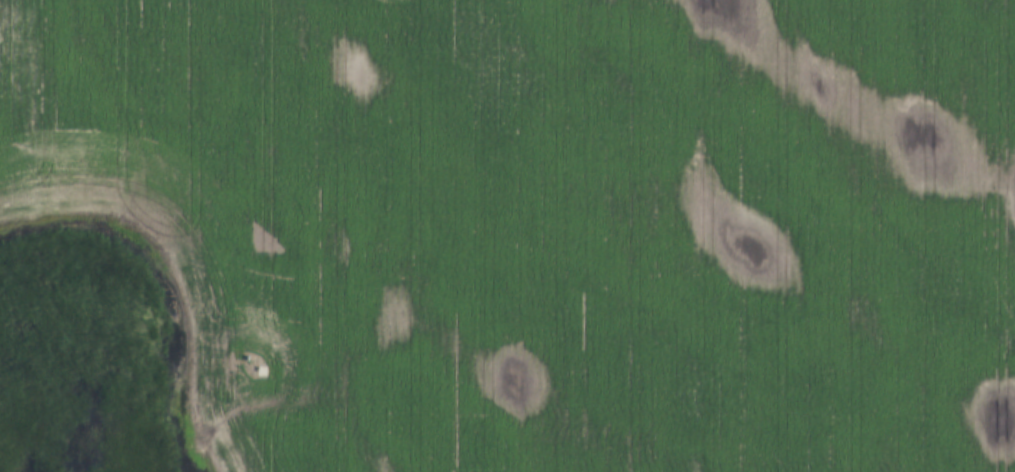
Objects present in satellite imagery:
crop: (541, 226)

